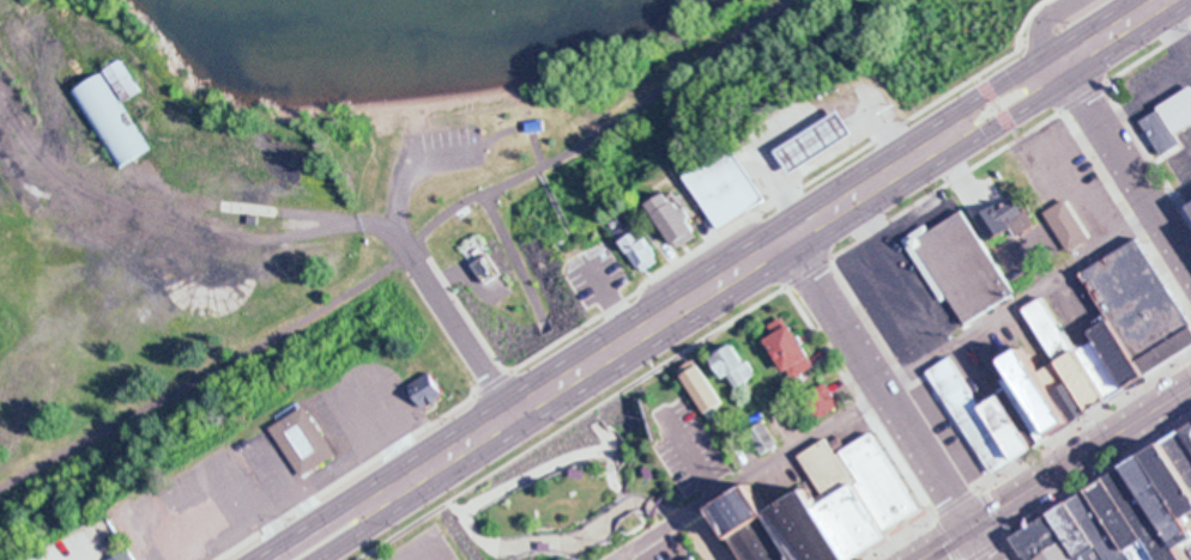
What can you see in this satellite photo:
road: (1142, 11)
road: (1046, 18)
road: (1174, 26)
road: (1032, 38)
park: (871, 39)
road: (1189, 45)
road: (1009, 73)
parking lot: (1161, 78)
building: (123, 79)
road: (1028, 104)
road: (997, 105)
road: (808, 117)
building: (111, 118)
building: (1171, 123)
building: (536, 126)
road: (516, 129)
building: (816, 142)
parking lot: (443, 148)
road: (1145, 156)
parking lot: (1181, 158)
road: (1119, 159)
road: (407, 164)
road: (538, 169)
park: (522, 172)
parking lot: (1065, 185)
building: (730, 189)
road: (1072, 190)
building: (1190, 207)
road: (1125, 212)
building: (1005, 218)
road: (860, 219)
building: (678, 220)
building: (1068, 225)
building: (645, 249)
road: (585, 251)
road: (404, 256)
road: (513, 261)
road: (876, 263)
building: (962, 268)
building: (488, 269)
parking lot: (599, 272)
road: (424, 274)
parking lot: (902, 279)
road: (640, 287)
road: (773, 293)
road: (613, 302)
parking lot: (1094, 303)
building: (1144, 308)
road: (465, 310)
parking lot: (1076, 317)
road: (660, 318)
parking lot: (1042, 336)
parking lot: (1018, 339)
building: (790, 348)
building: (1126, 352)
building: (1074, 353)
parking lot: (1002, 358)
building: (736, 365)
building: (1108, 366)
parking lot: (983, 375)
park: (186, 379)
road: (905, 382)
building: (1075, 386)
building: (1051, 389)
building: (430, 391)
building: (706, 392)
road: (860, 398)
road: (889, 398)
building: (824, 401)
road: (923, 408)
building: (1033, 408)
building: (973, 418)
building: (1015, 426)
road: (385, 427)
parking lot: (339, 431)
parking lot: (857, 436)
parking lot: (950, 436)
building: (1190, 437)
building: (762, 438)
building: (307, 443)
building: (840, 445)
building: (1185, 450)
parking lot: (689, 451)
road: (600, 452)
road: (694, 455)
road: (1032, 457)
road: (543, 469)
road: (1056, 471)
building: (1178, 471)
park: (598, 479)
road: (290, 480)
road: (613, 480)
road: (207, 481)
building: (887, 481)
parking lot: (796, 485)
road: (1078, 489)
building: (853, 498)
building: (1168, 498)
road: (623, 499)
parking lot: (197, 509)
road: (332, 511)
building: (1153, 517)
building: (1127, 523)
road: (362, 525)
building: (764, 525)
building: (827, 530)
building: (195, 531)
building: (1078, 536)
road: (949, 537)
road: (231, 538)
road: (702, 538)
road: (564, 541)
parking lot: (86, 543)
road: (418, 546)
parking lot: (422, 548)
road: (573, 548)
parking lot: (666, 548)
parking lot: (1189, 548)
road: (92, 550)
building: (121, 556)
road: (78, 559)
building: (695, 559)

